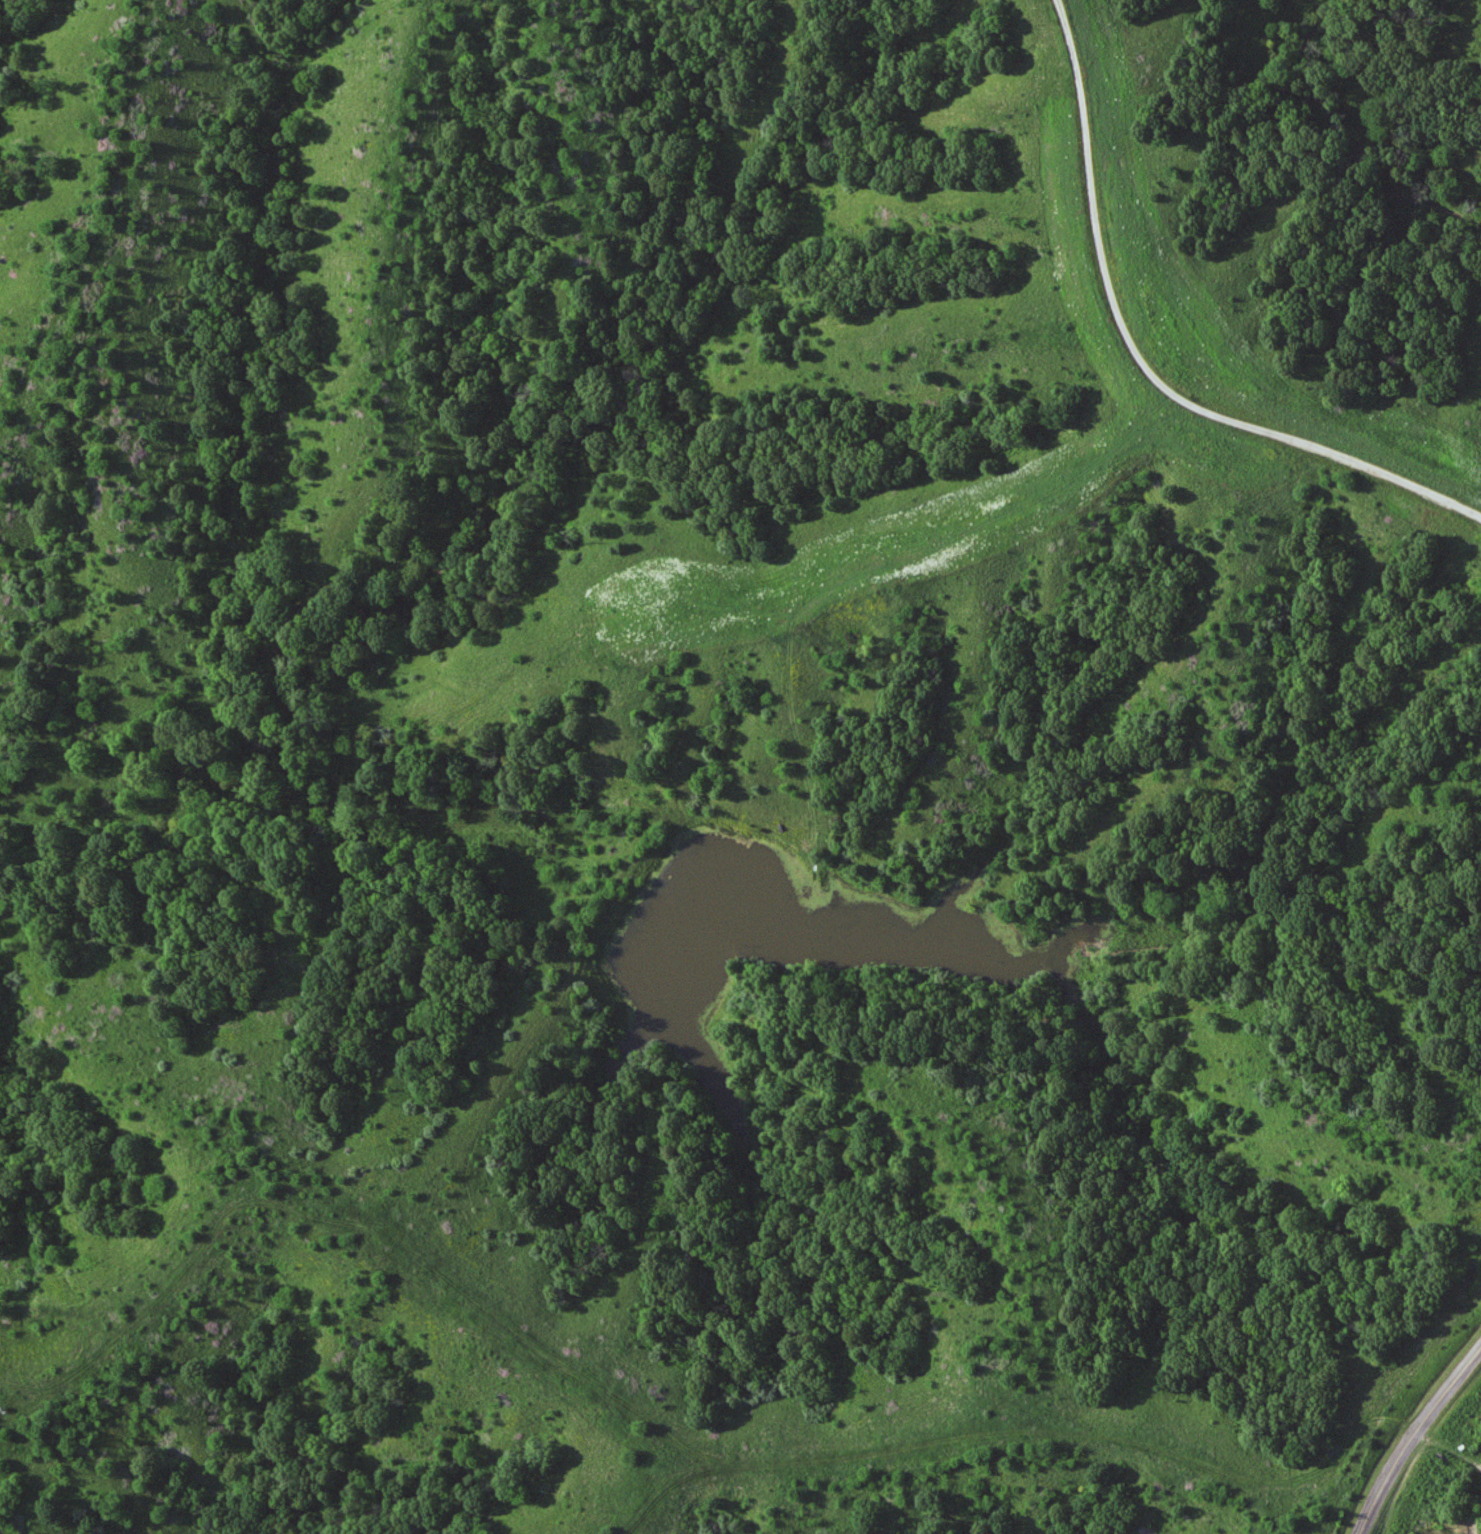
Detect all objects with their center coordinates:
road: (1144, 356)
road: (1409, 1430)

